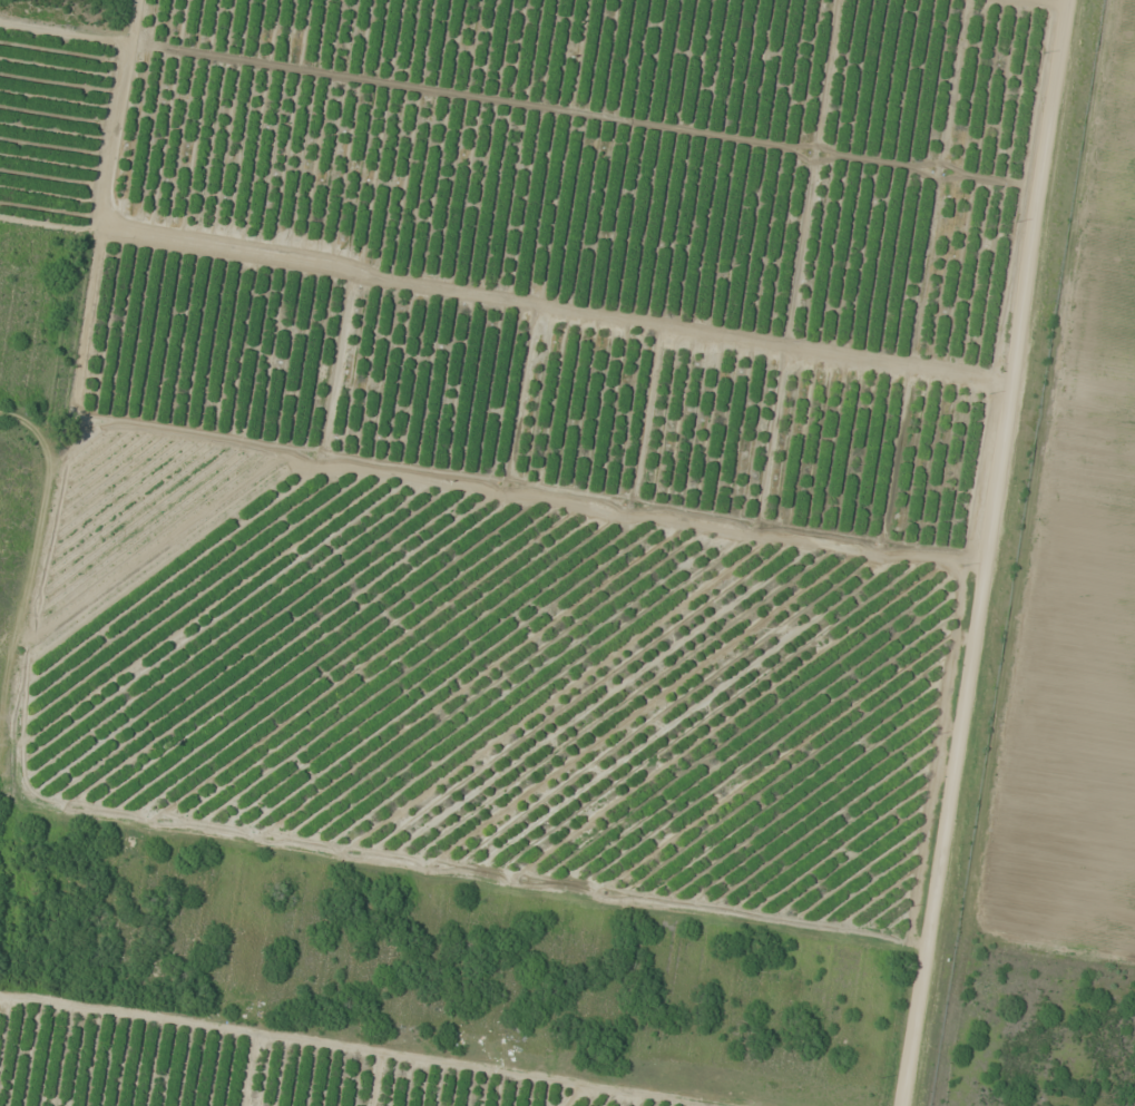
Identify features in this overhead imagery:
road: (984, 552)

